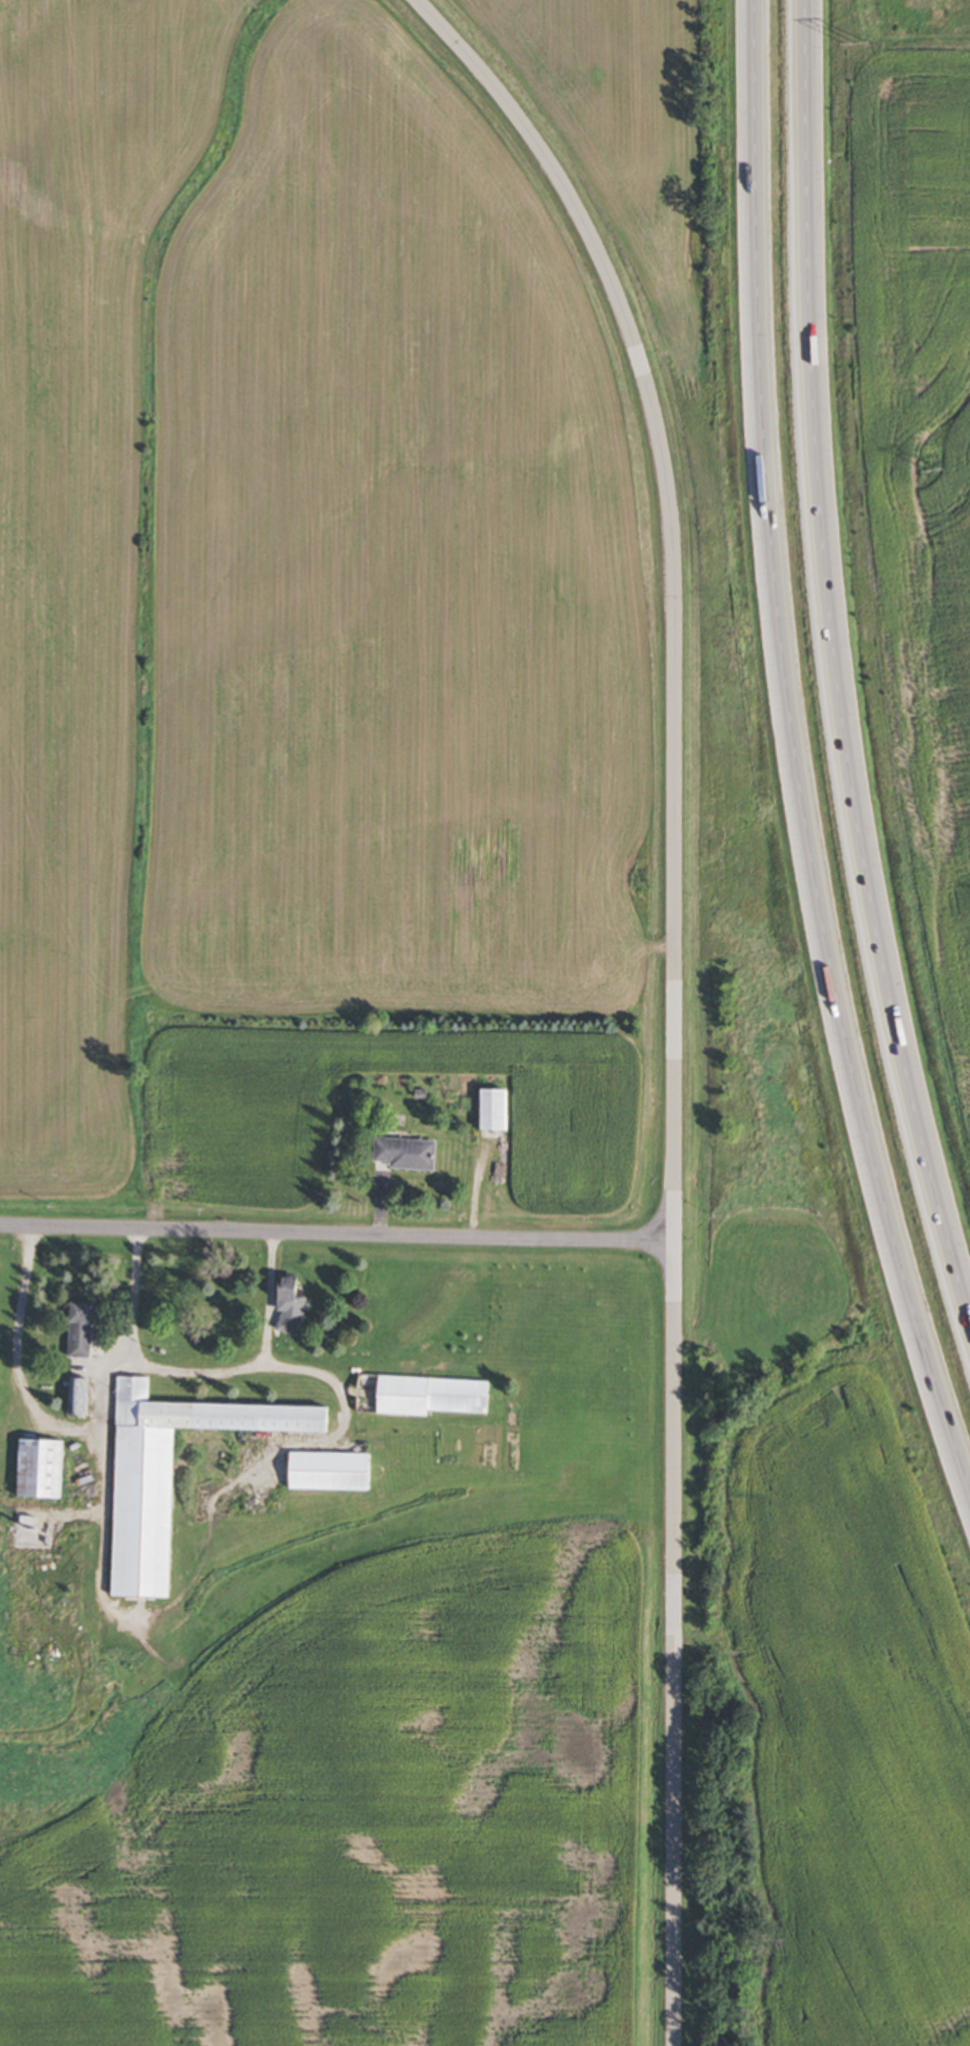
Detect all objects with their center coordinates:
power tower: (856, 45)
power tower: (934, 472)
road: (833, 670)
road: (789, 760)
road: (671, 987)
building: (494, 1108)
building: (405, 1152)
road: (336, 1231)
building: (291, 1305)
building: (82, 1328)
road: (196, 1370)
road: (28, 1392)
building: (422, 1394)
building: (79, 1396)
road: (342, 1396)
building: (43, 1468)
building: (330, 1471)
building: (170, 1473)
road: (100, 1483)

